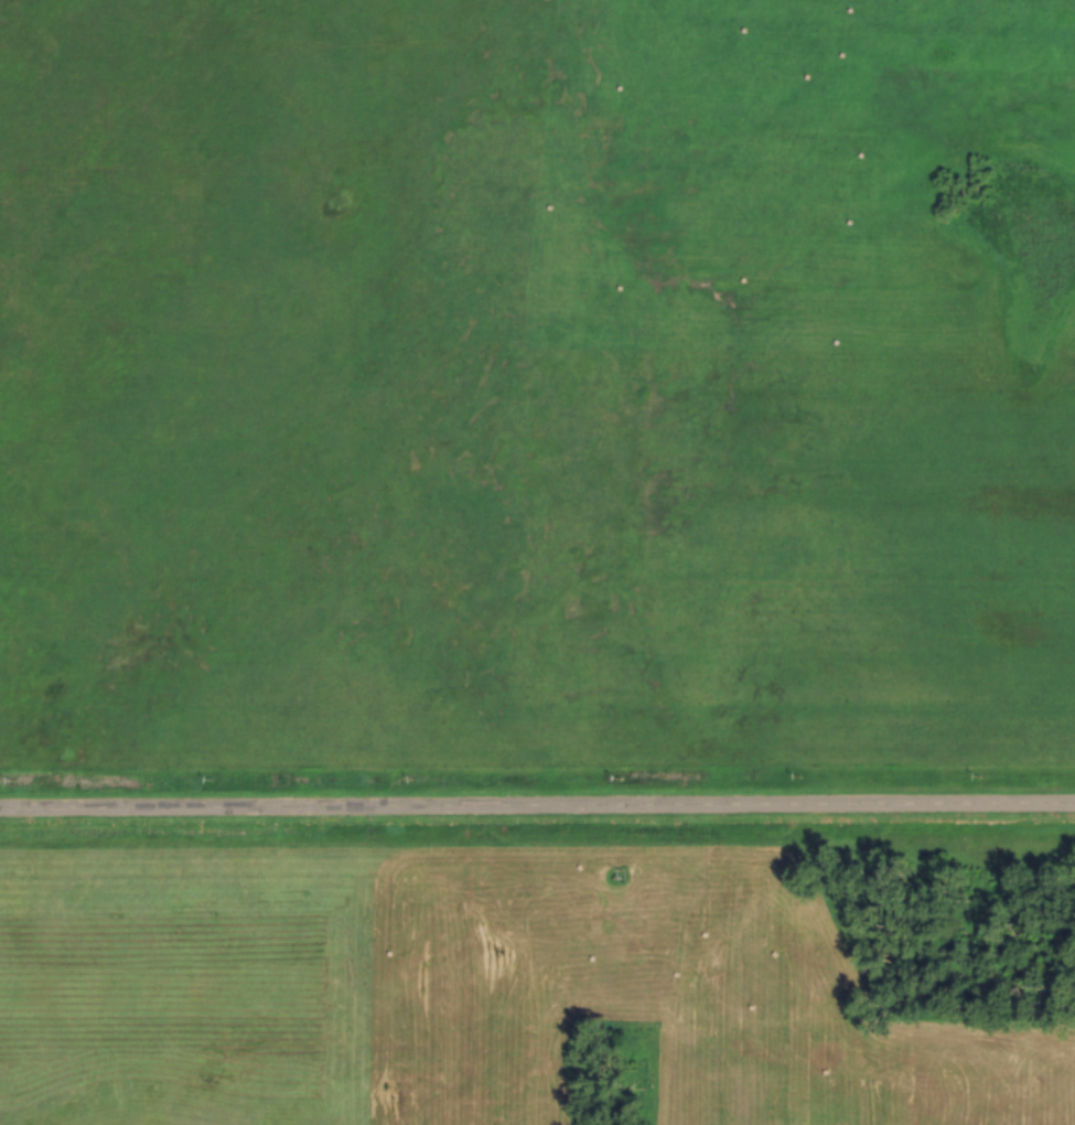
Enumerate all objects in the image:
road: (537, 808)

